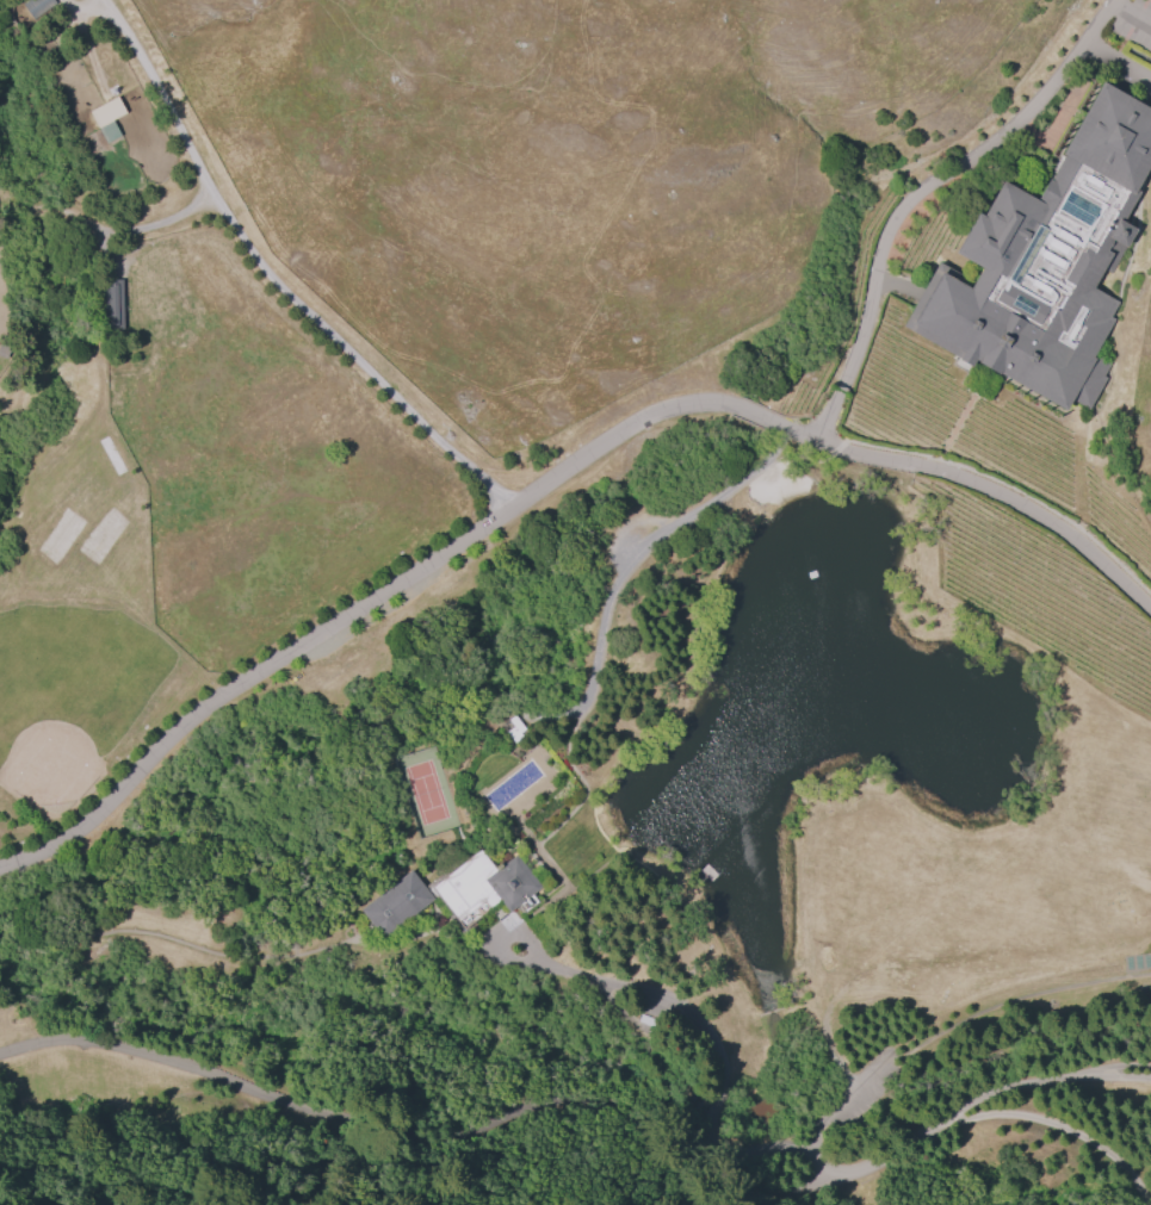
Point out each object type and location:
building: (37, 7)
parking lot: (1135, 57)
building: (105, 116)
road: (922, 191)
parking lot: (906, 230)
building: (1051, 259)
road: (274, 280)
road: (896, 285)
parking lot: (917, 298)
building: (117, 303)
road: (756, 414)
road: (978, 485)
road: (649, 546)
road: (357, 610)
park: (70, 696)
park: (423, 793)
building: (458, 893)
road: (717, 1038)
road: (593, 1098)
road: (1045, 1122)

